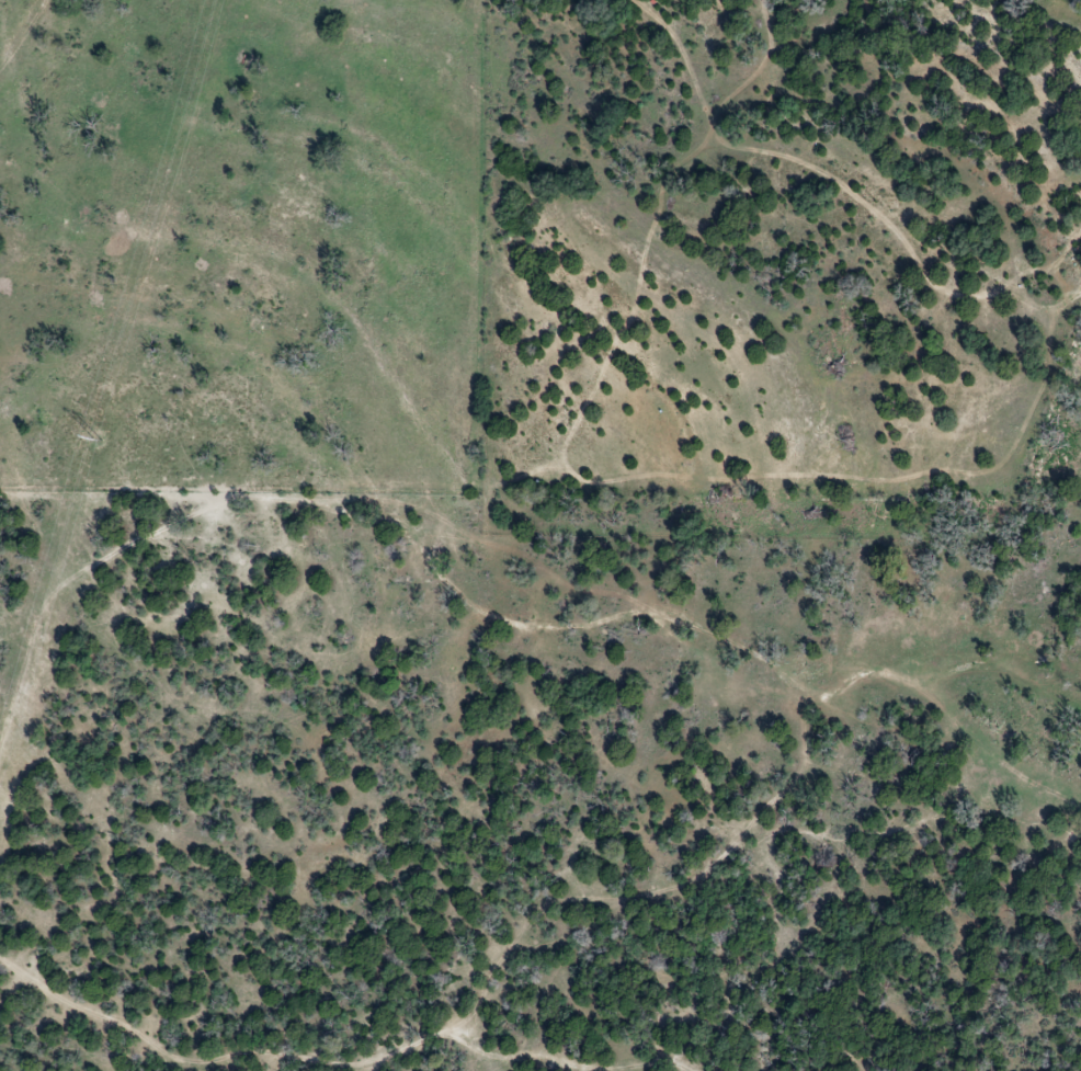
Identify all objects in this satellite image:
power tower: (96, 437)

